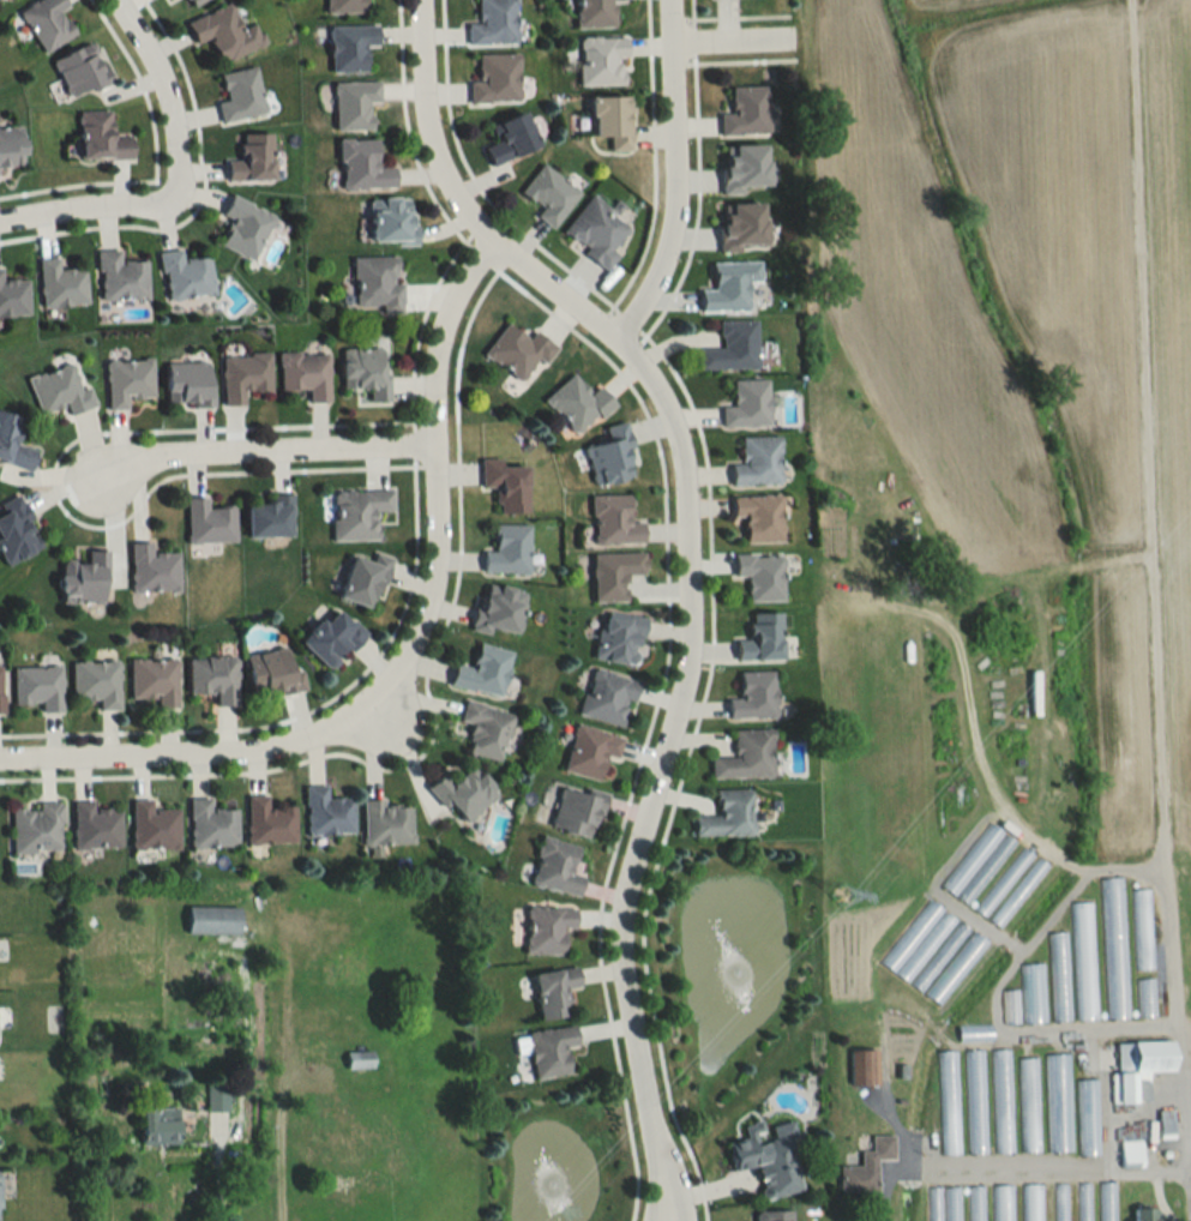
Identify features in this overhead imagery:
building: (8, 0)
building: (192, 2)
building: (345, 6)
building: (596, 13)
building: (47, 23)
building: (493, 23)
building: (224, 34)
road: (724, 44)
building: (350, 46)
building: (602, 61)
building: (80, 71)
building: (495, 79)
road: (163, 89)
building: (240, 95)
building: (354, 103)
building: (746, 112)
building: (610, 119)
building: (100, 136)
building: (510, 138)
building: (11, 144)
building: (252, 157)
building: (362, 164)
building: (744, 167)
road: (662, 176)
building: (548, 194)
road: (91, 210)
building: (391, 219)
building: (243, 225)
building: (742, 225)
building: (596, 229)
building: (184, 275)
building: (120, 276)
building: (377, 282)
building: (60, 283)
building: (730, 285)
building: (13, 297)
crop: (919, 297)
crop: (1096, 323)
building: (732, 347)
building: (517, 350)
building: (363, 369)
building: (305, 373)
building: (243, 375)
building: (127, 380)
building: (187, 383)
building: (58, 391)
building: (577, 403)
building: (747, 404)
building: (13, 443)
building: (610, 455)
road: (264, 459)
building: (757, 462)
road: (439, 479)
building: (505, 483)
building: (357, 513)
building: (267, 517)
building: (759, 517)
building: (613, 521)
building: (207, 522)
building: (16, 530)
road: (684, 542)
building: (506, 549)
building: (151, 569)
building: (613, 575)
building: (760, 576)
building: (83, 577)
building: (363, 579)
building: (498, 608)
building: (332, 637)
building: (760, 637)
building: (619, 638)
building: (482, 670)
building: (273, 672)
building: (212, 676)
building: (154, 679)
building: (95, 682)
building: (36, 686)
building: (0, 691)
building: (753, 696)
building: (607, 697)
building: (486, 729)
road: (194, 744)
building: (589, 751)
building: (745, 754)
building: (462, 792)
building: (326, 812)
building: (576, 812)
building: (727, 814)
building: (269, 822)
building: (386, 823)
building: (211, 824)
building: (95, 825)
building: (152, 826)
building: (35, 828)
building: (976, 864)
building: (555, 866)
building: (1001, 882)
building: (1016, 892)
power tower: (840, 897)
building: (212, 919)
building: (547, 927)
building: (1139, 928)
road: (1040, 931)
building: (922, 945)
building: (1111, 948)
building: (1081, 961)
building: (954, 967)
building: (335, 968)
building: (1055, 976)
building: (554, 991)
building: (1030, 993)
building: (1142, 997)
building: (1007, 1006)
building: (972, 1031)
building: (551, 1049)
building: (861, 1066)
building: (1137, 1066)
building: (999, 1100)
building: (973, 1101)
building: (946, 1102)
building: (1055, 1102)
building: (1025, 1105)
building: (1085, 1117)
building: (1163, 1123)
road: (1183, 1123)
building: (158, 1125)
building: (1129, 1130)
building: (345, 1139)
building: (1130, 1153)
building: (766, 1163)
building: (865, 1167)
road: (1012, 1169)
road: (276, 1183)
road: (217, 1184)
road: (656, 1199)
road: (669, 1199)
building: (1029, 1202)
building: (1058, 1202)
building: (1081, 1202)
building: (1105, 1202)
building: (931, 1203)
building: (950, 1203)
building: (973, 1203)
building: (1000, 1203)
building: (1143, 1214)
building: (772, 1215)

